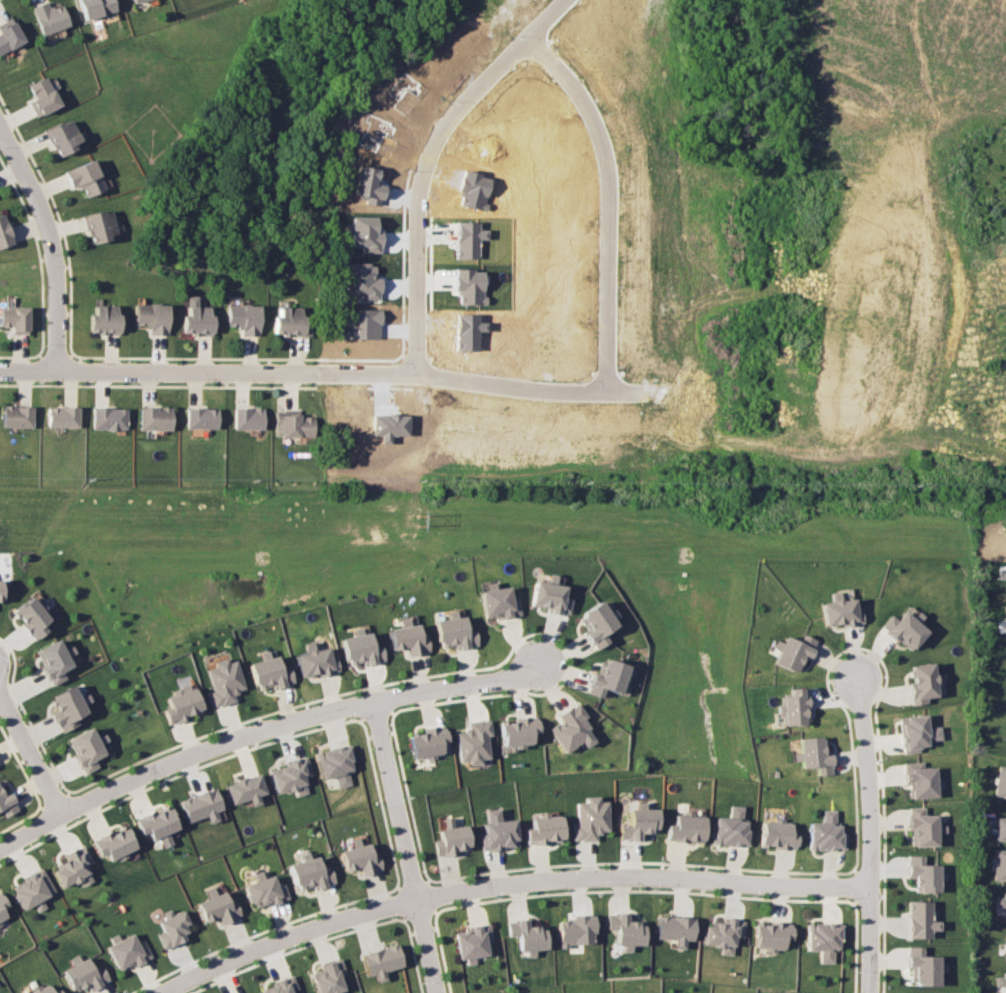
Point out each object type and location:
building: (133, 0)
building: (96, 7)
building: (50, 17)
road: (543, 18)
building: (9, 34)
building: (41, 95)
road: (595, 127)
building: (62, 136)
building: (84, 177)
building: (99, 225)
building: (4, 232)
building: (468, 239)
road: (46, 240)
building: (469, 285)
building: (152, 317)
building: (14, 318)
building: (196, 318)
building: (244, 318)
building: (103, 319)
building: (290, 321)
road: (188, 366)
building: (17, 416)
building: (63, 416)
building: (201, 417)
building: (248, 417)
building: (108, 418)
building: (154, 418)
building: (293, 424)
building: (0, 593)
building: (548, 595)
building: (498, 601)
building: (840, 609)
building: (32, 616)
building: (593, 625)
building: (903, 629)
building: (455, 632)
building: (409, 637)
building: (361, 647)
building: (792, 652)
building: (54, 659)
building: (315, 661)
building: (269, 670)
building: (603, 678)
building: (223, 680)
building: (922, 681)
road: (500, 693)
road: (387, 699)
road: (315, 700)
building: (181, 703)
building: (69, 707)
road: (344, 707)
building: (791, 707)
road: (373, 713)
road: (26, 715)
building: (572, 727)
building: (517, 731)
building: (917, 731)
building: (475, 740)
building: (428, 741)
building: (87, 748)
road: (30, 753)
building: (813, 754)
building: (336, 763)
road: (21, 765)
building: (292, 775)
road: (174, 776)
building: (920, 779)
building: (1001, 782)
building: (247, 789)
road: (57, 799)
building: (7, 800)
road: (75, 805)
building: (203, 805)
road: (48, 817)
building: (591, 818)
road: (20, 820)
building: (159, 823)
building: (638, 823)
building: (922, 826)
building: (545, 828)
building: (685, 828)
building: (730, 828)
building: (1000, 828)
building: (498, 831)
building: (825, 833)
road: (871, 834)
building: (776, 835)
building: (451, 837)
building: (115, 842)
road: (406, 846)
building: (359, 856)
building: (1000, 864)
building: (75, 867)
building: (309, 873)
building: (923, 874)
road: (508, 884)
building: (33, 889)
building: (264, 890)
building: (1001, 904)
building: (2, 907)
building: (218, 907)
building: (920, 919)
building: (173, 929)
building: (676, 929)
building: (577, 930)
building: (626, 930)
building: (724, 934)
building: (772, 934)
building: (528, 935)
building: (824, 939)
building: (473, 941)
building: (381, 961)
building: (923, 966)
building: (84, 973)
building: (329, 977)
building: (1001, 980)
building: (283, 985)
building: (47, 990)

